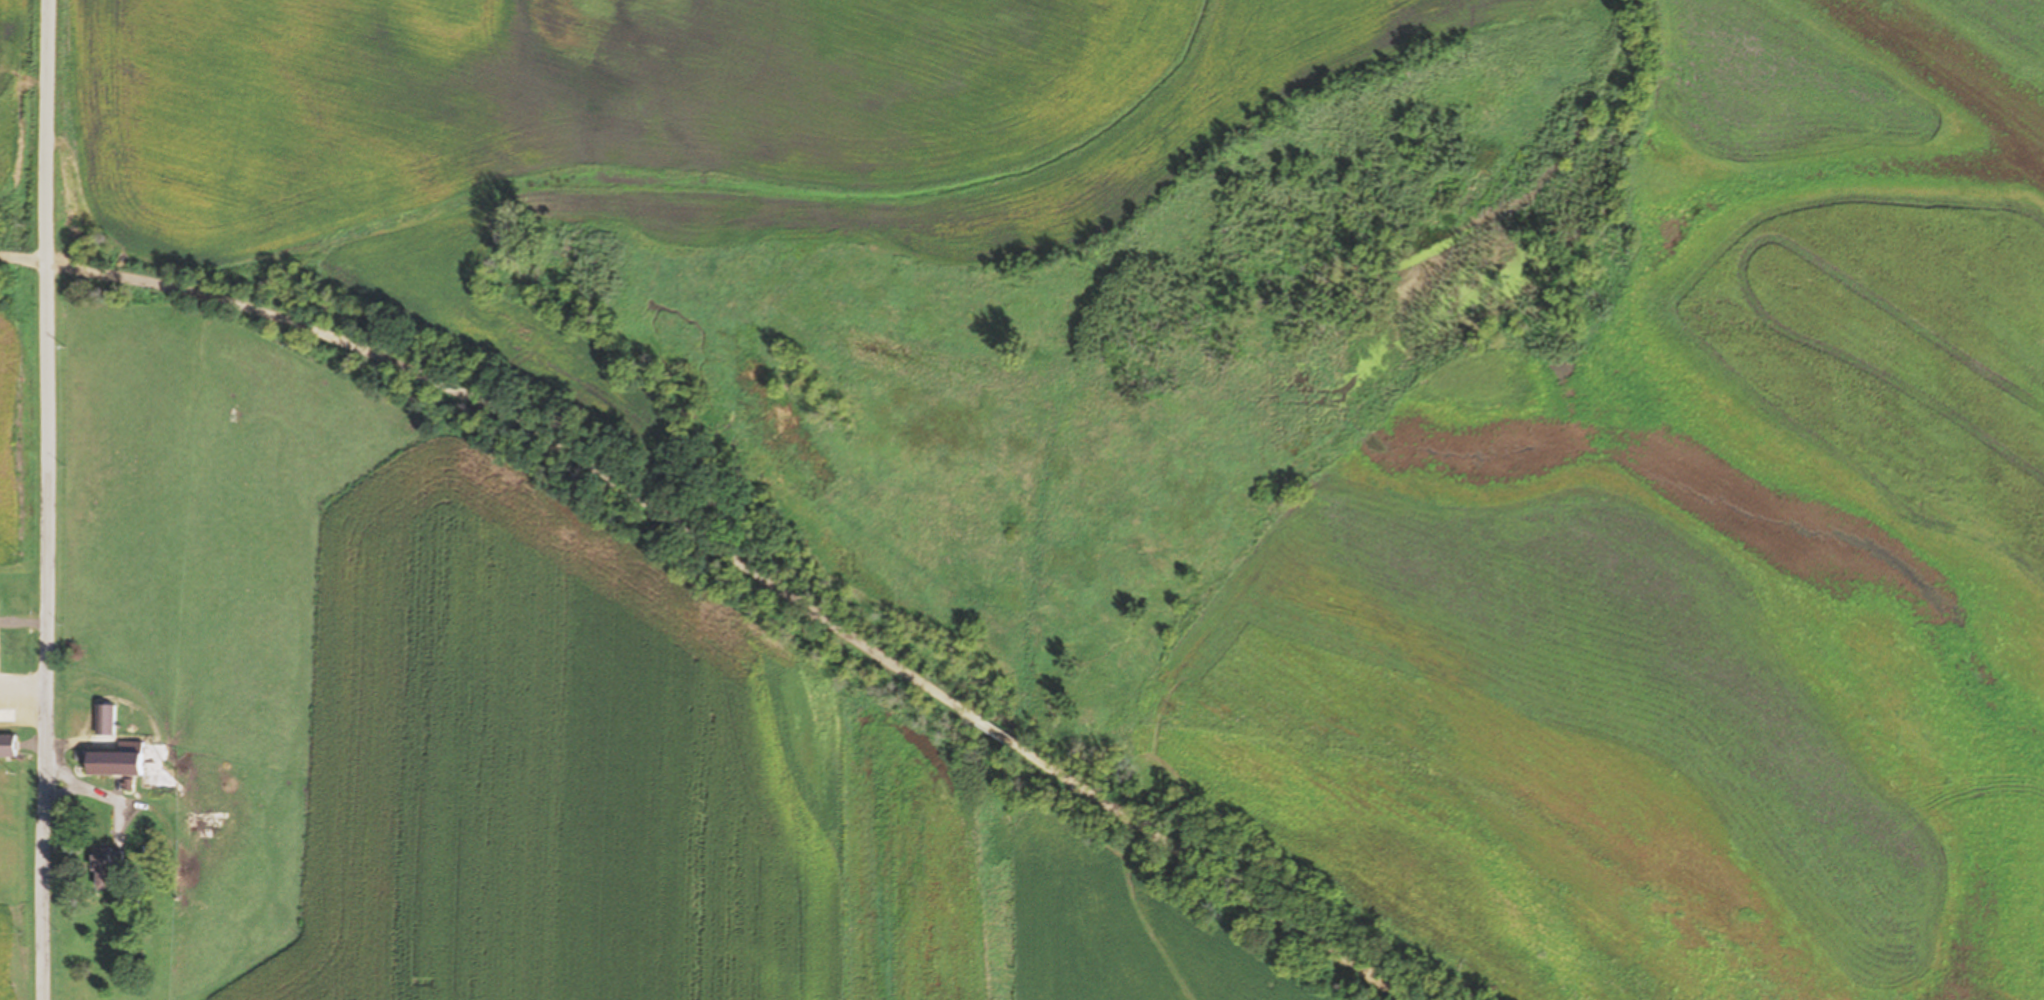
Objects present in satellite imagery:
road: (48, 499)
road: (751, 538)
building: (106, 719)
building: (8, 745)
building: (116, 760)
building: (108, 867)

